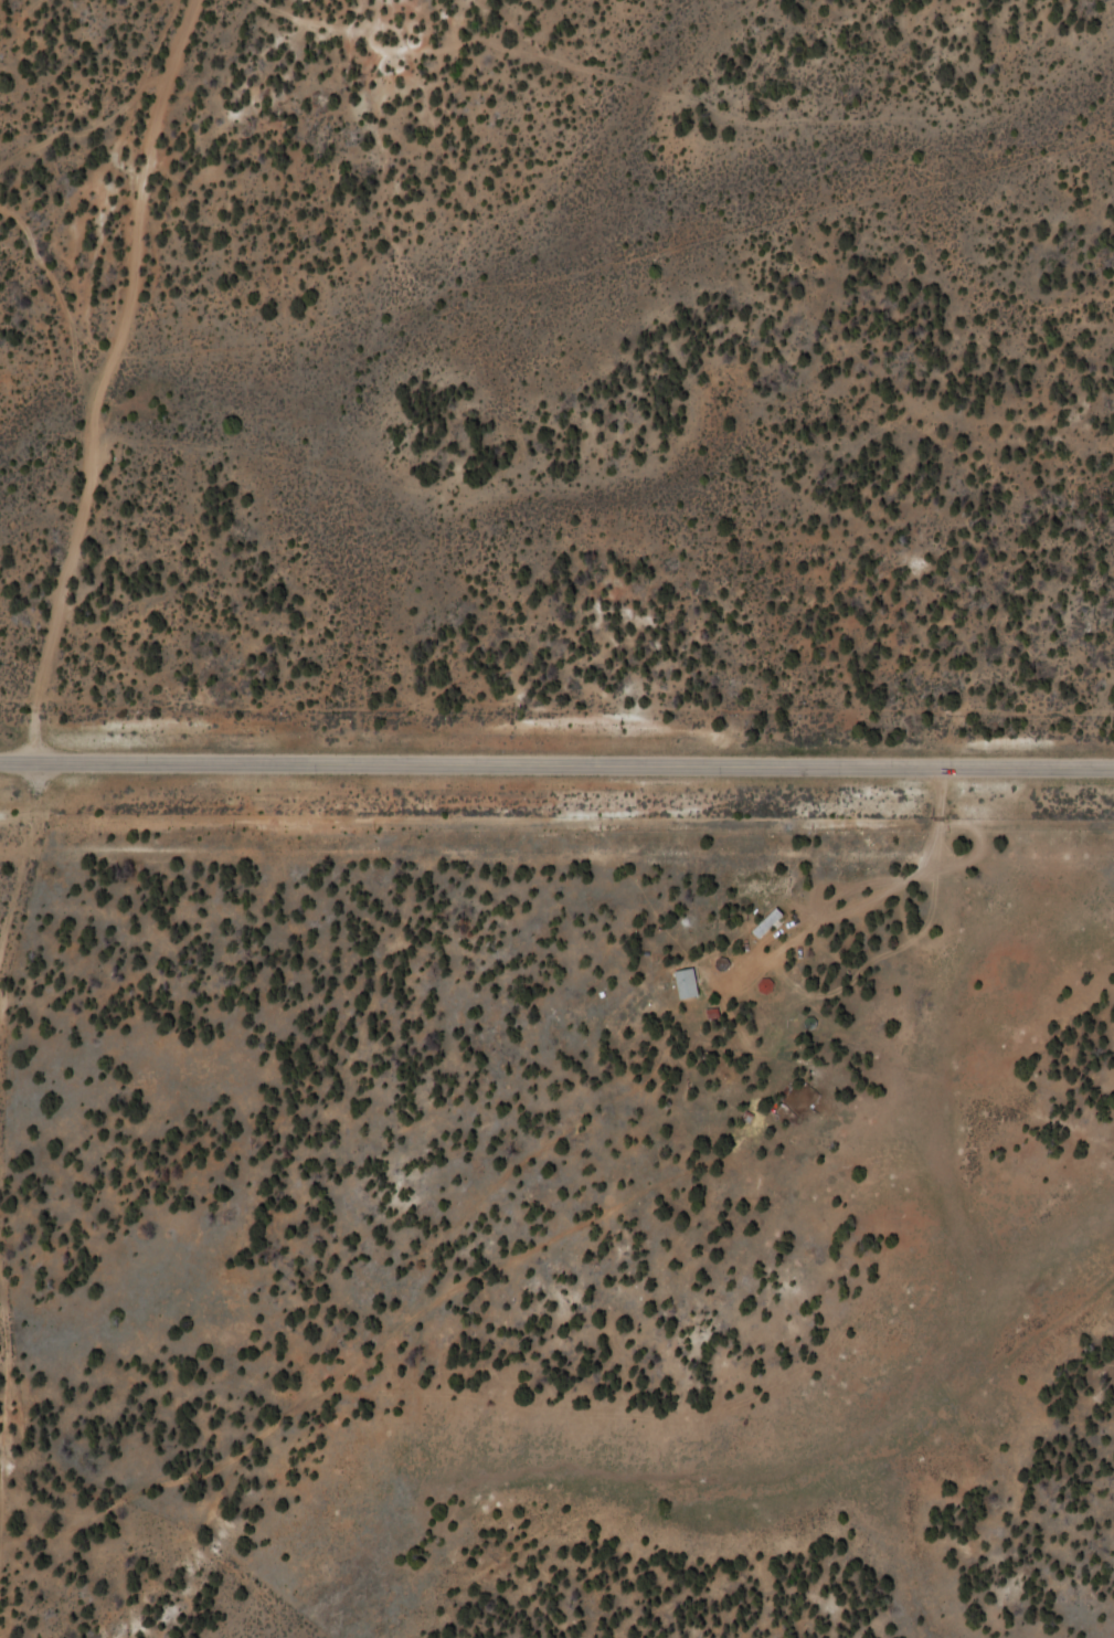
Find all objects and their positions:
road: (86, 542)
road: (556, 758)
road: (862, 900)
building: (763, 923)
building: (682, 983)
road: (15, 1384)
road: (774, 1487)

